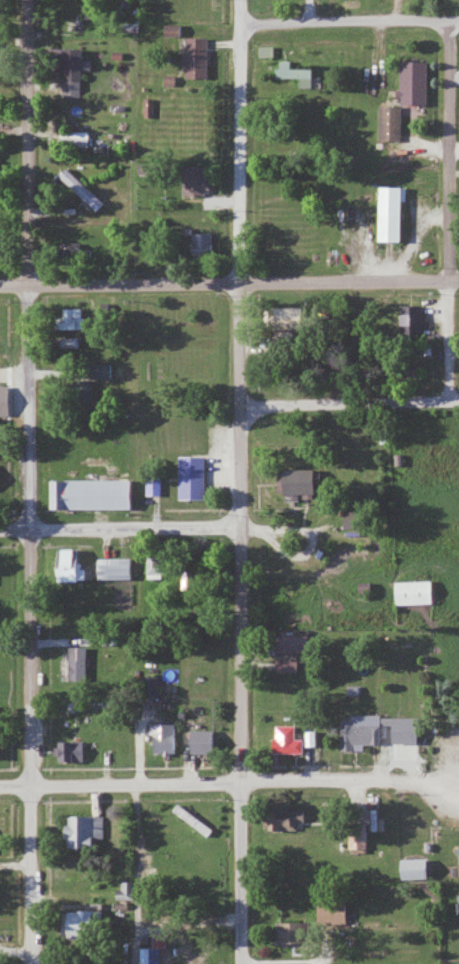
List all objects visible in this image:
road: (350, 19)
building: (71, 23)
building: (192, 59)
building: (66, 73)
building: (292, 75)
building: (401, 99)
building: (192, 181)
road: (454, 210)
building: (387, 214)
building: (200, 244)
building: (66, 251)
road: (229, 282)
building: (68, 320)
building: (408, 320)
building: (402, 374)
building: (79, 392)
road: (350, 403)
building: (188, 479)
road: (33, 482)
road: (243, 482)
building: (293, 484)
building: (88, 495)
road: (121, 526)
building: (66, 567)
building: (151, 569)
building: (111, 570)
building: (409, 594)
building: (288, 642)
building: (74, 665)
building: (283, 667)
building: (146, 688)
building: (356, 733)
building: (159, 740)
building: (197, 742)
building: (282, 742)
road: (229, 783)
building: (281, 822)
building: (81, 836)
building: (355, 838)
building: (409, 871)
building: (327, 914)
building: (77, 924)
building: (289, 934)

